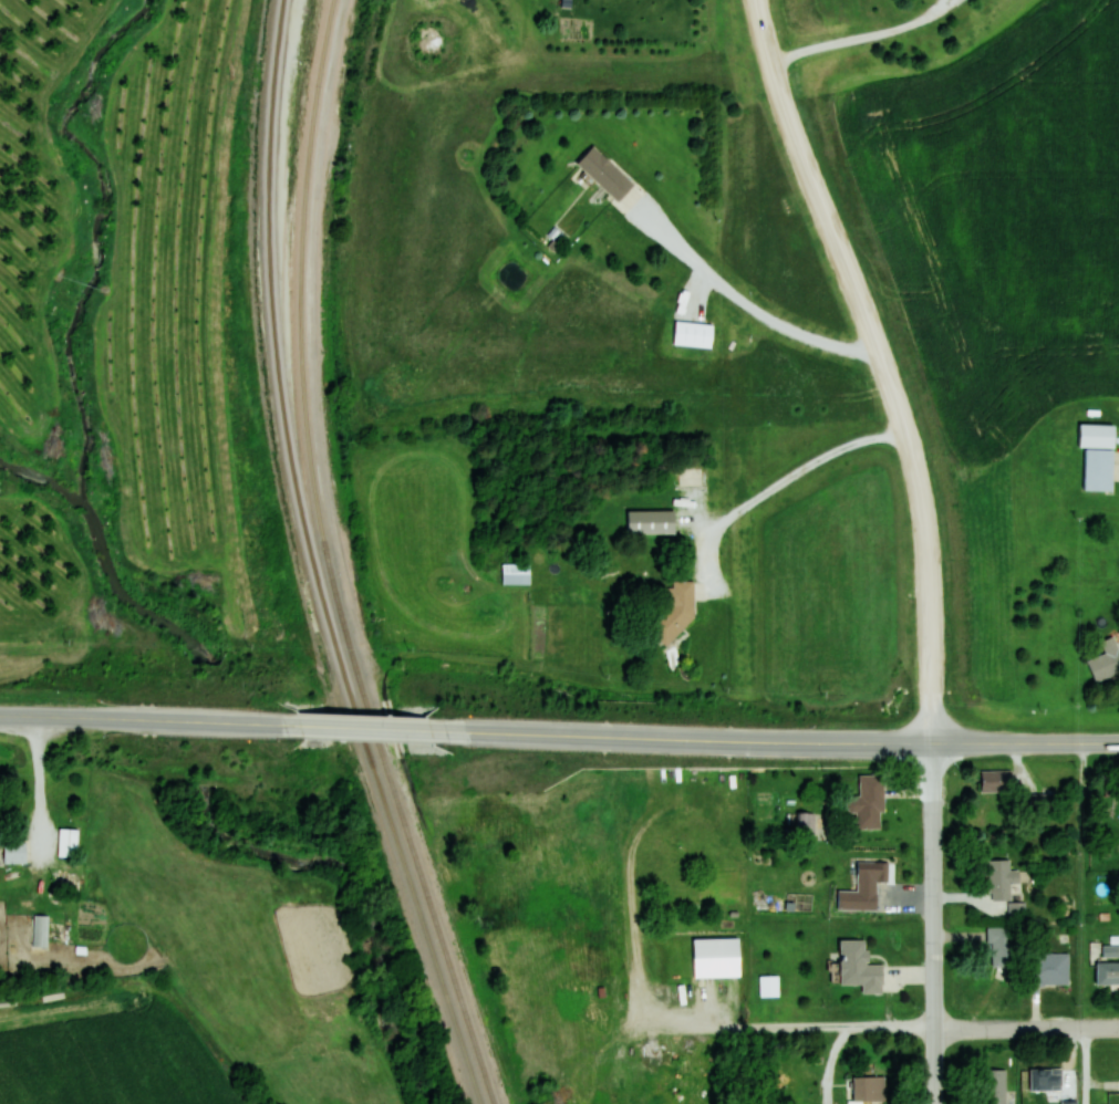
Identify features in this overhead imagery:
building: (604, 175)
building: (693, 333)
road: (881, 362)
building: (1097, 468)
building: (651, 521)
railway: (329, 561)
railway: (312, 562)
building: (515, 573)
building: (673, 610)
building: (1106, 659)
road: (141, 718)
road: (363, 726)
road: (687, 738)
road: (1024, 742)
building: (995, 781)
building: (1042, 802)
building: (868, 803)
building: (805, 821)
building: (66, 843)
building: (14, 852)
building: (1002, 879)
building: (863, 887)
building: (1016, 910)
road: (932, 923)
building: (40, 931)
building: (1001, 946)
building: (715, 957)
building: (859, 967)
building: (1051, 968)
building: (1107, 972)
road: (1026, 1030)
building: (1045, 1080)
building: (994, 1086)
building: (869, 1089)

